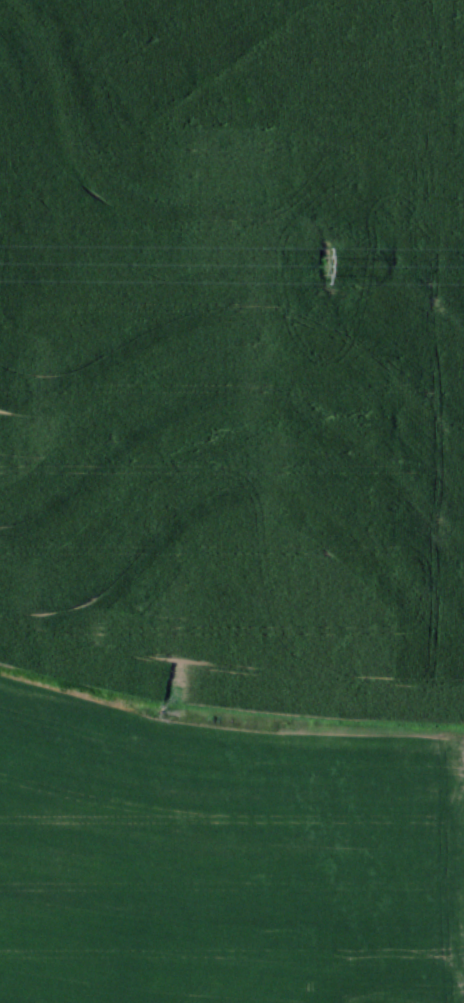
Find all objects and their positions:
power tower: (321, 263)

